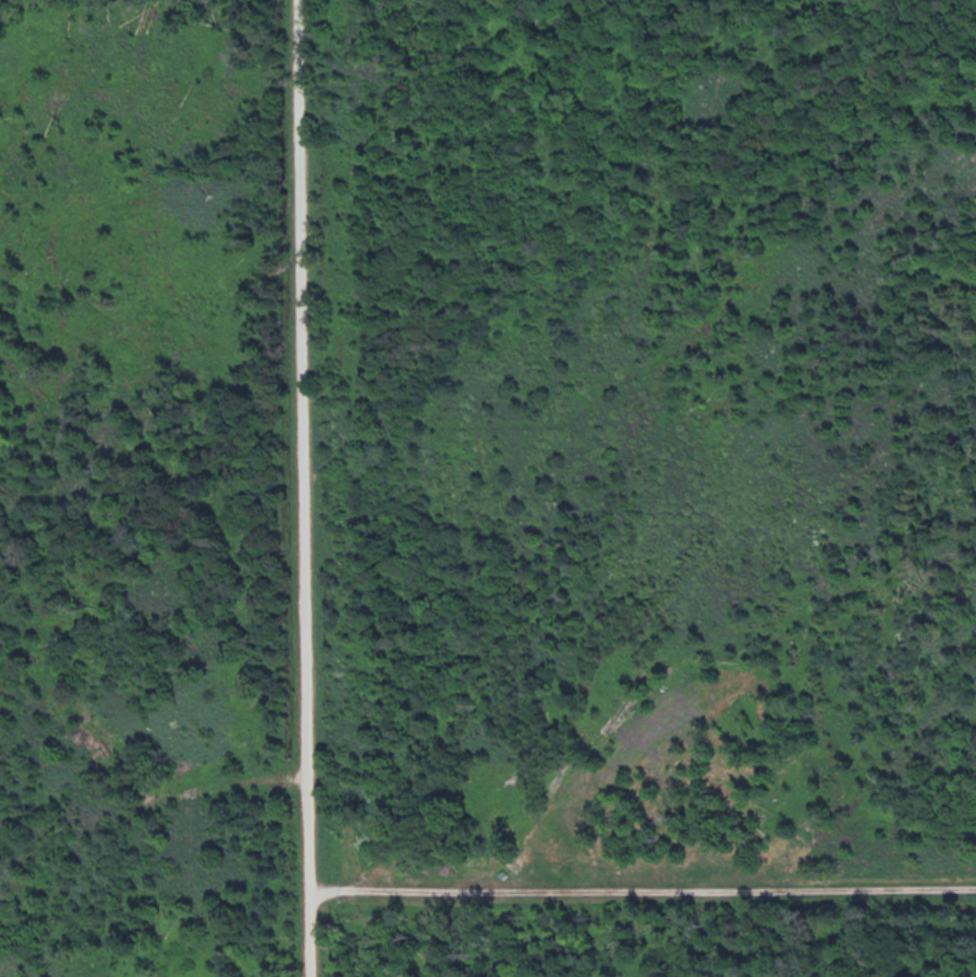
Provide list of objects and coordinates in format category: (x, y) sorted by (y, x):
road: (300, 488)

